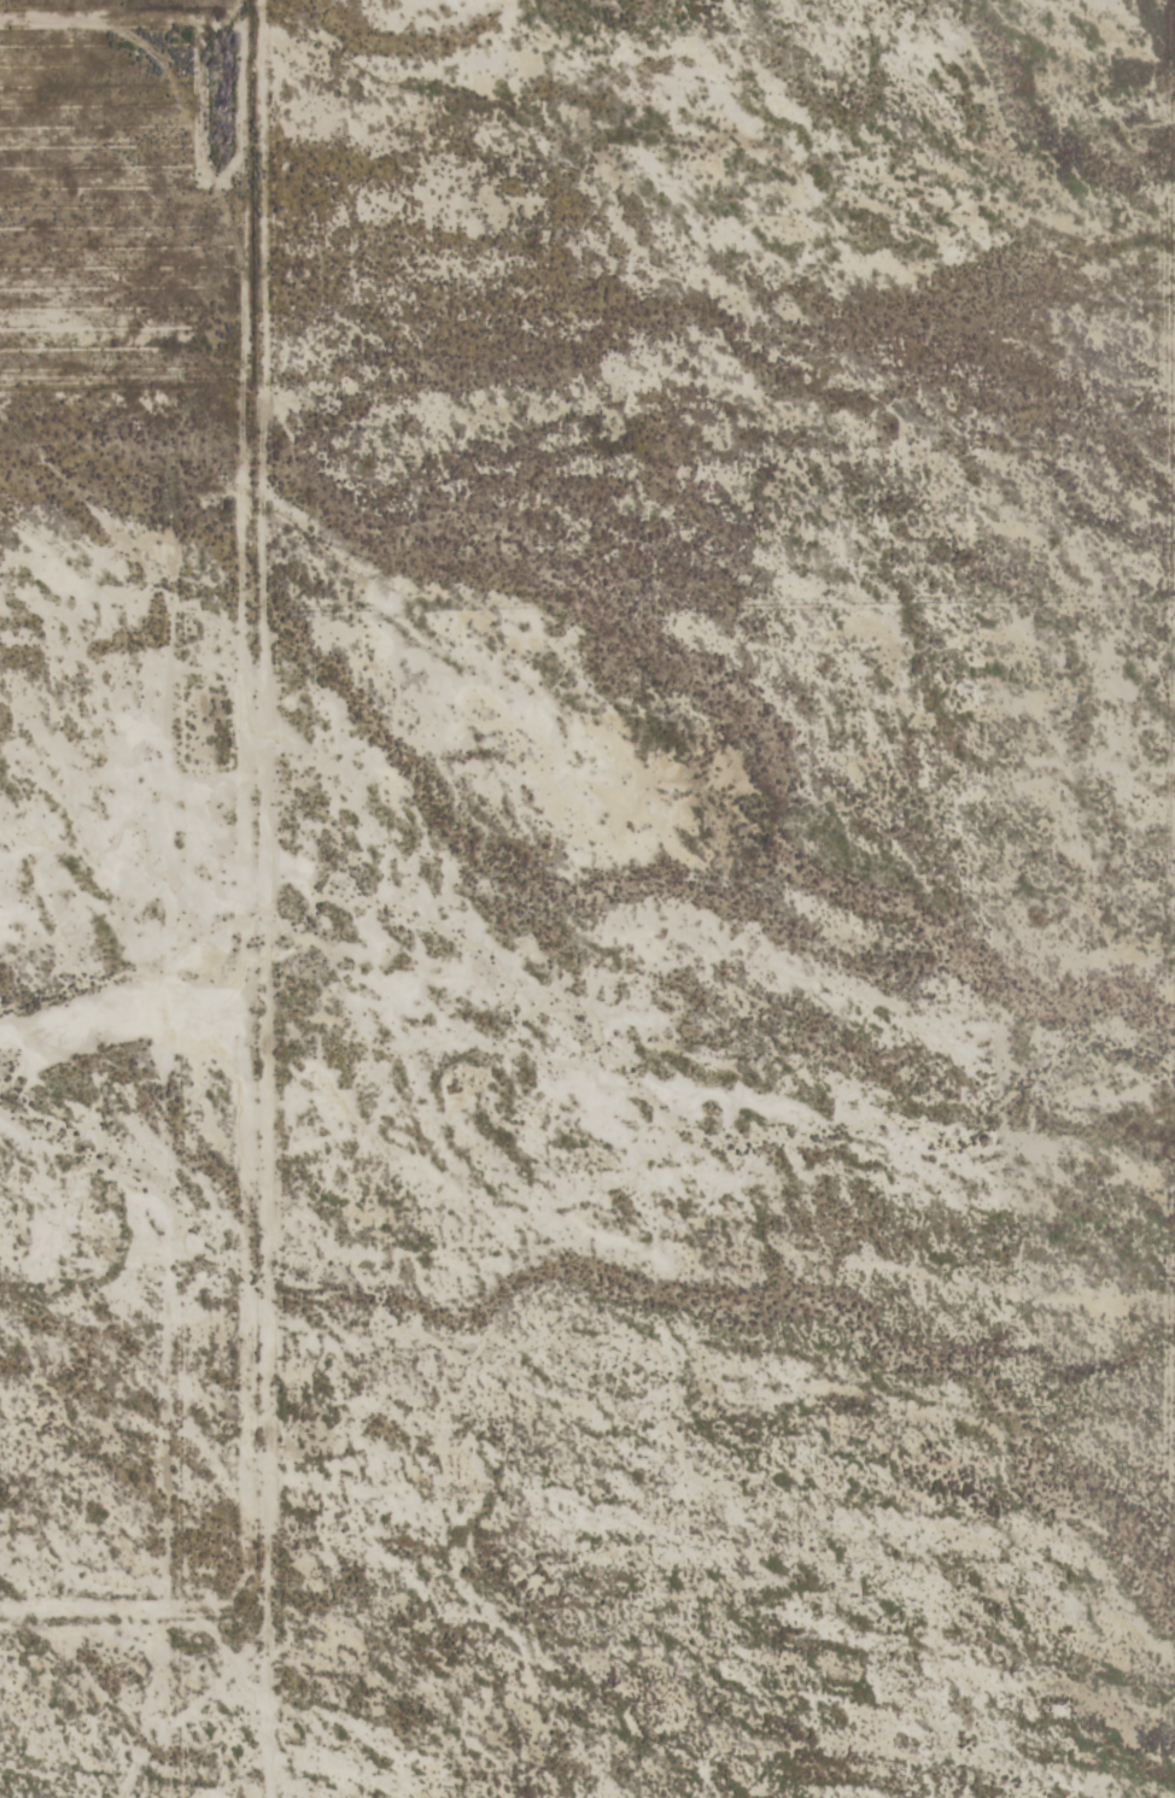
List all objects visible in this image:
airport runway: (75, 1017)
airport taxiway: (103, 1605)

